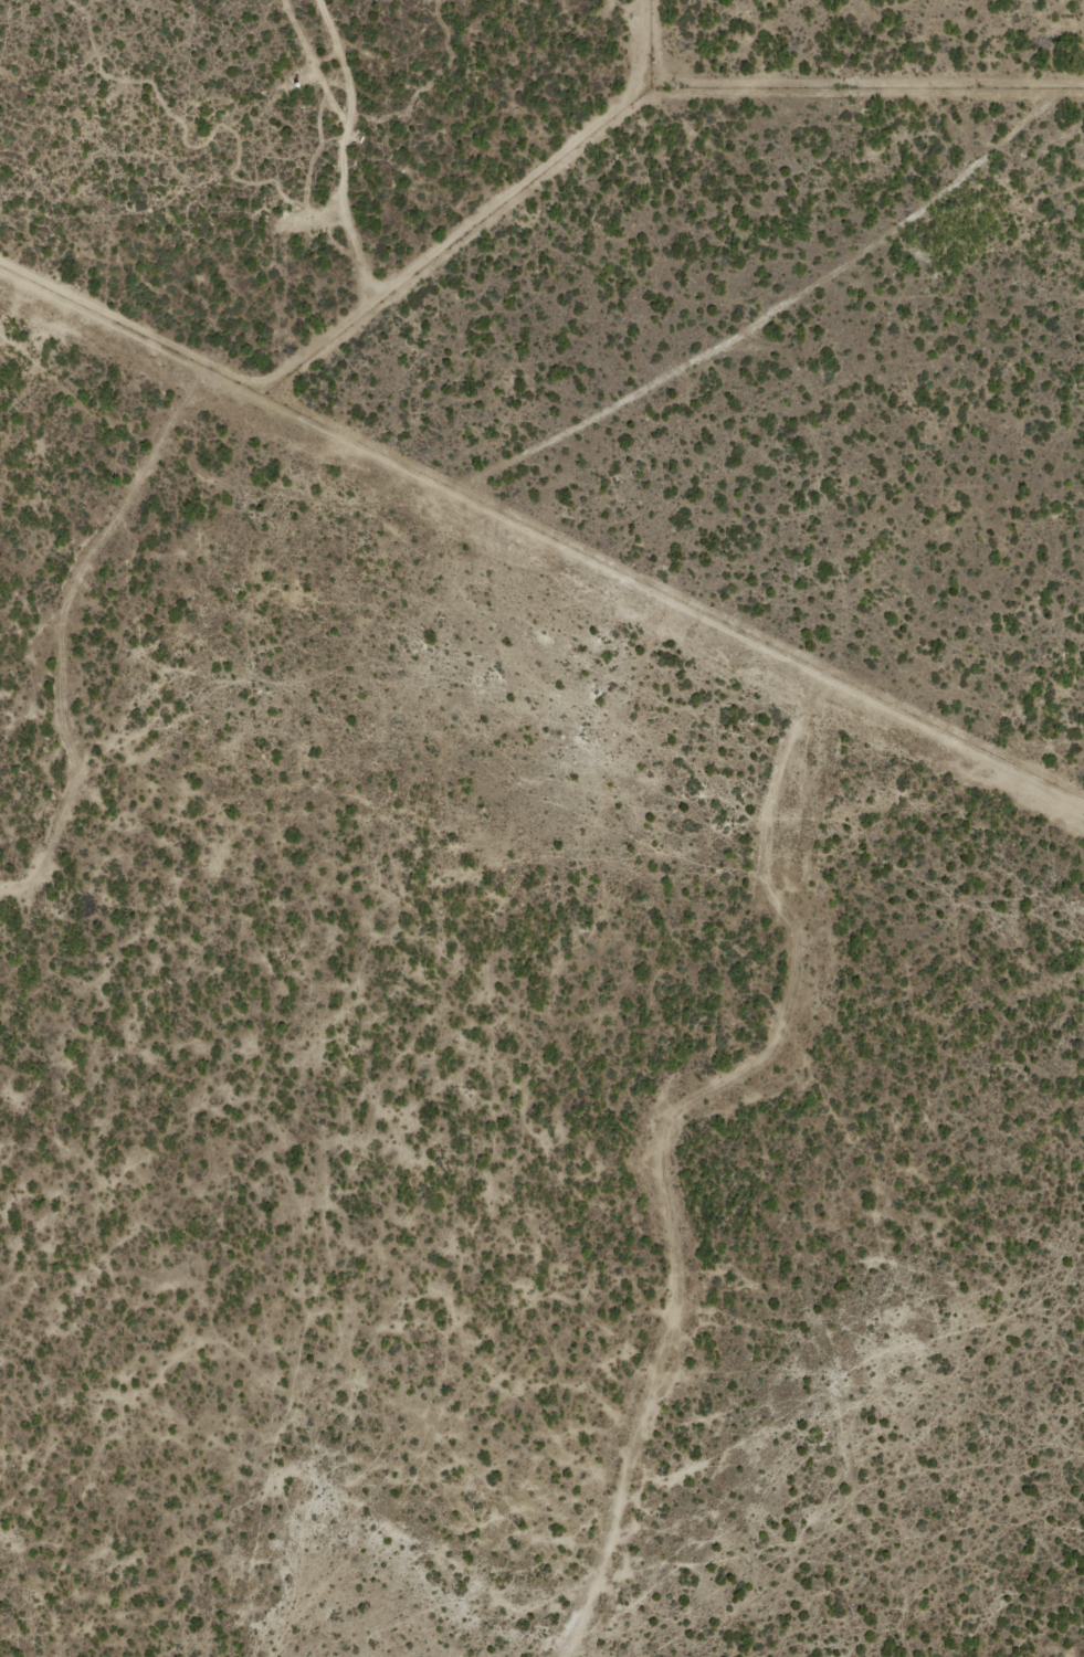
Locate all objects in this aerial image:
road: (370, 299)
road: (781, 304)
road: (288, 393)

